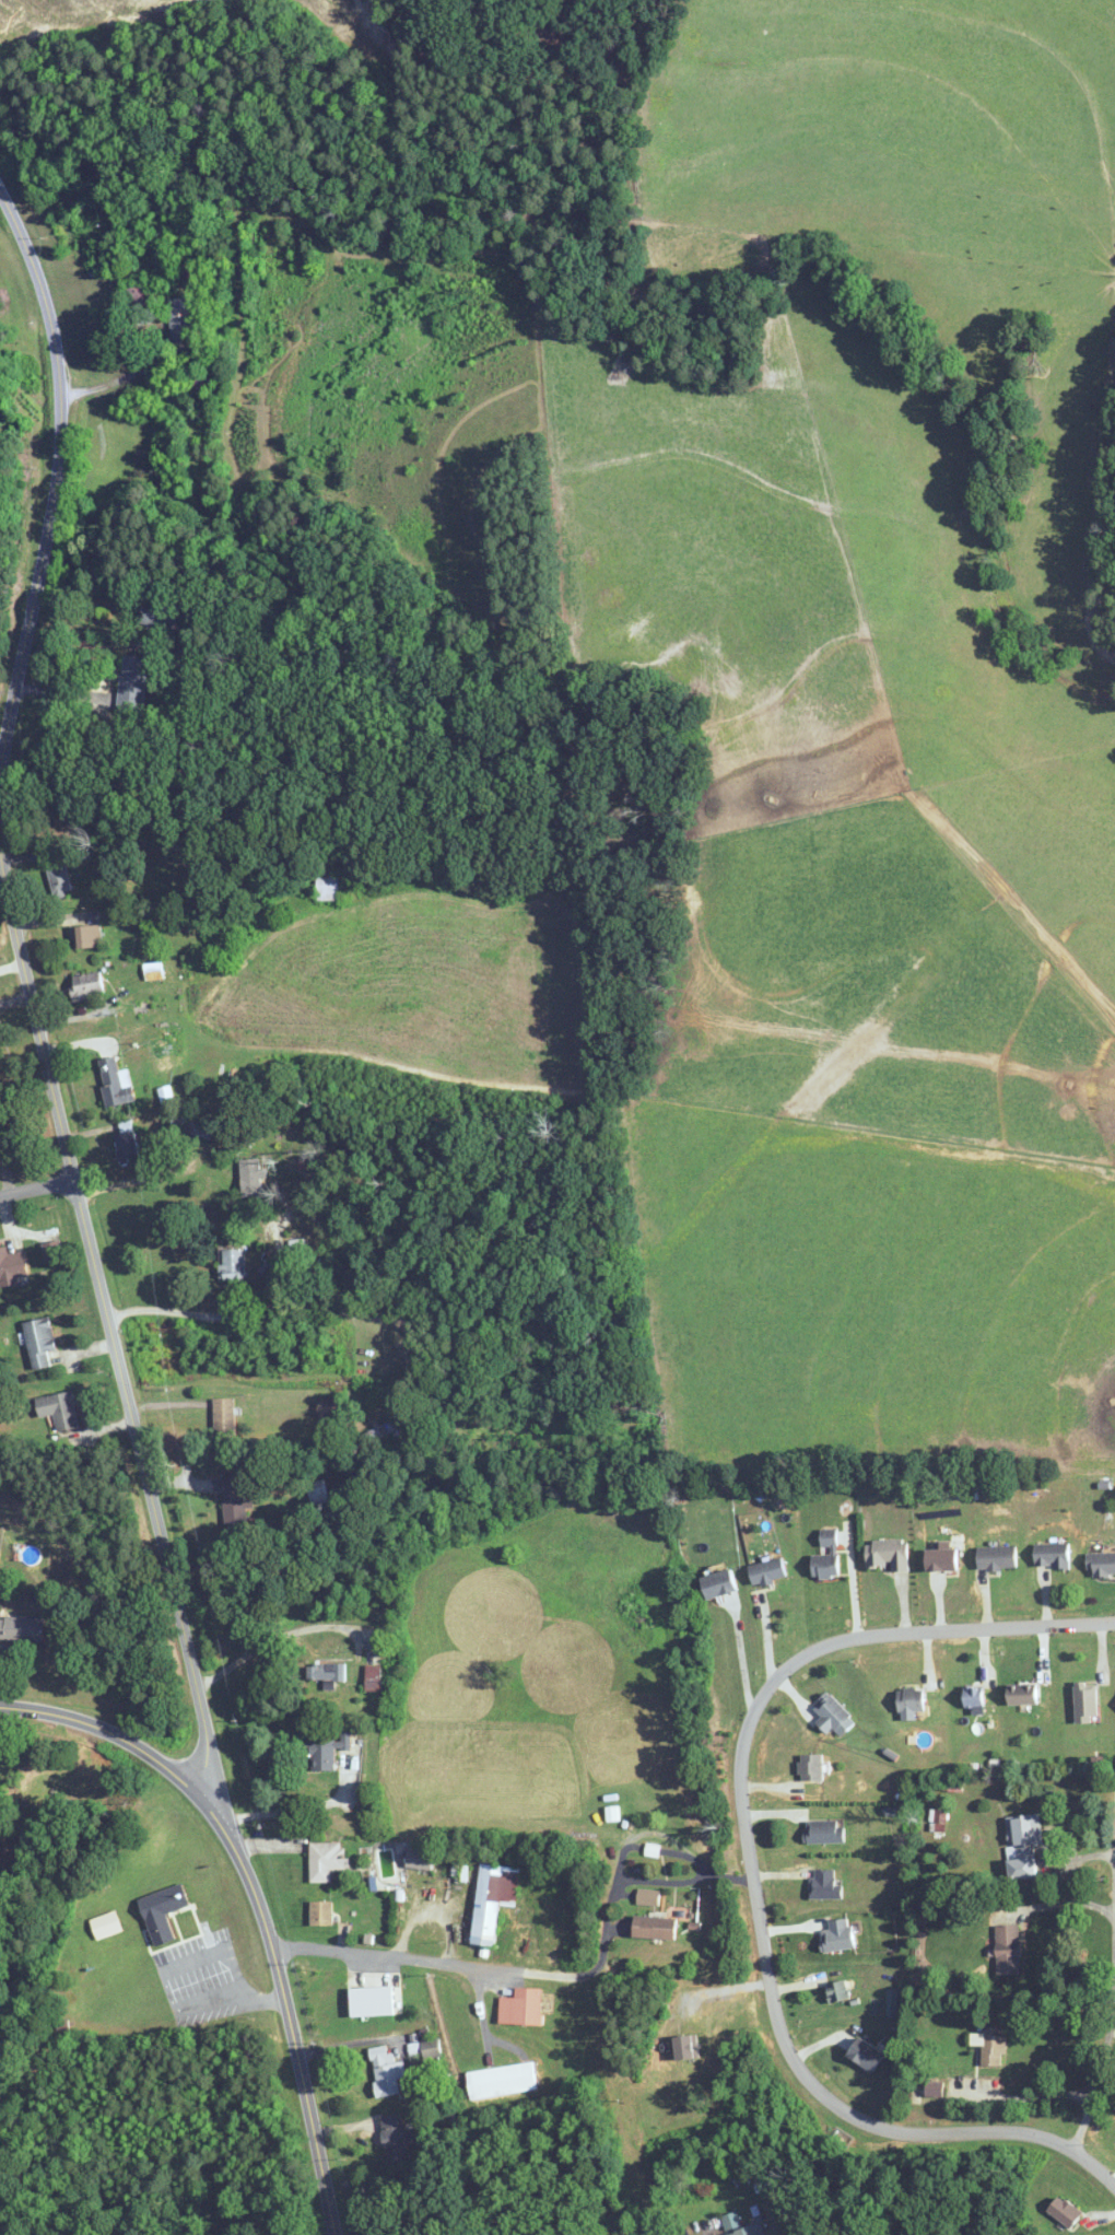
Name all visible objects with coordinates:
building: (179, 319)
building: (204, 379)
road: (55, 478)
building: (160, 615)
building: (132, 683)
road: (71, 693)
building: (327, 885)
building: (87, 937)
building: (153, 971)
building: (86, 985)
building: (161, 1055)
building: (116, 1083)
building: (192, 1125)
building: (1, 1130)
building: (127, 1146)
building: (250, 1178)
road: (134, 1181)
road: (37, 1186)
building: (12, 1265)
building: (233, 1265)
road: (371, 1312)
road: (248, 1314)
road: (110, 1325)
building: (39, 1341)
building: (326, 1407)
building: (59, 1411)
building: (224, 1418)
building: (385, 1428)
building: (318, 1491)
building: (888, 1554)
building: (1052, 1555)
building: (826, 1556)
building: (997, 1557)
building: (942, 1558)
building: (1102, 1563)
building: (767, 1571)
building: (719, 1583)
building: (21, 1628)
road: (274, 1639)
building: (327, 1673)
building: (1022, 1694)
building: (973, 1696)
building: (909, 1699)
building: (1085, 1702)
building: (832, 1713)
road: (122, 1737)
building: (327, 1752)
building: (810, 1766)
road: (304, 1806)
building: (824, 1832)
road: (748, 1846)
building: (1025, 1846)
building: (420, 1858)
building: (325, 1860)
road: (637, 1880)
building: (647, 1896)
building: (493, 1898)
road: (1061, 1900)
building: (163, 1911)
building: (321, 1912)
building: (655, 1927)
building: (838, 1935)
building: (1008, 1950)
road: (431, 1959)
road: (228, 1961)
building: (837, 1990)
road: (1114, 1992)
road: (190, 2006)
building: (521, 2006)
road: (1113, 2020)
road: (291, 2021)
building: (990, 2045)
building: (866, 2055)
building: (386, 2072)
building: (502, 2081)
building: (935, 2090)
road: (1031, 2097)
building: (395, 2138)
road: (1094, 2166)
building: (1065, 2211)
building: (741, 2225)

